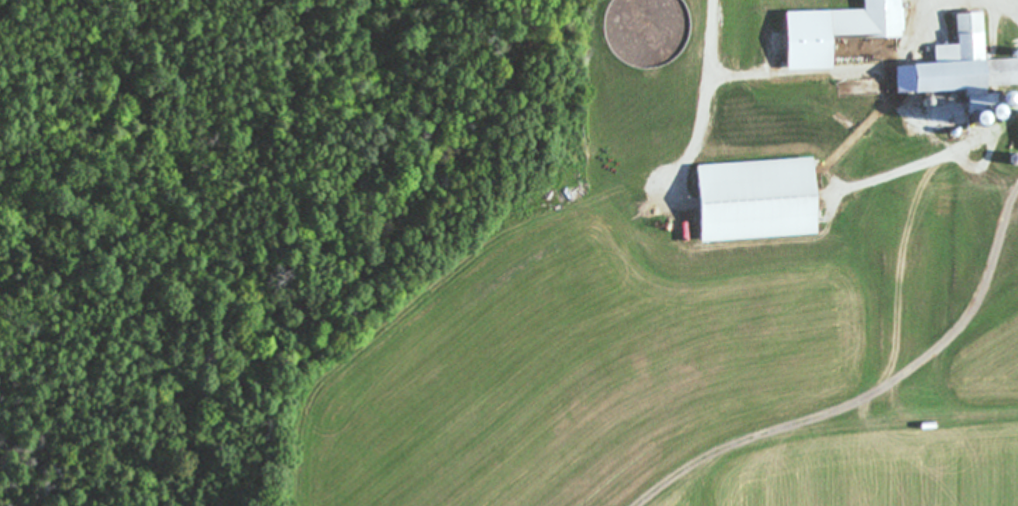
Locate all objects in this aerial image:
road: (982, 2)
road: (1015, 3)
building: (831, 31)
building: (955, 66)
road: (706, 98)
building: (1017, 128)
road: (934, 162)
building: (747, 201)

